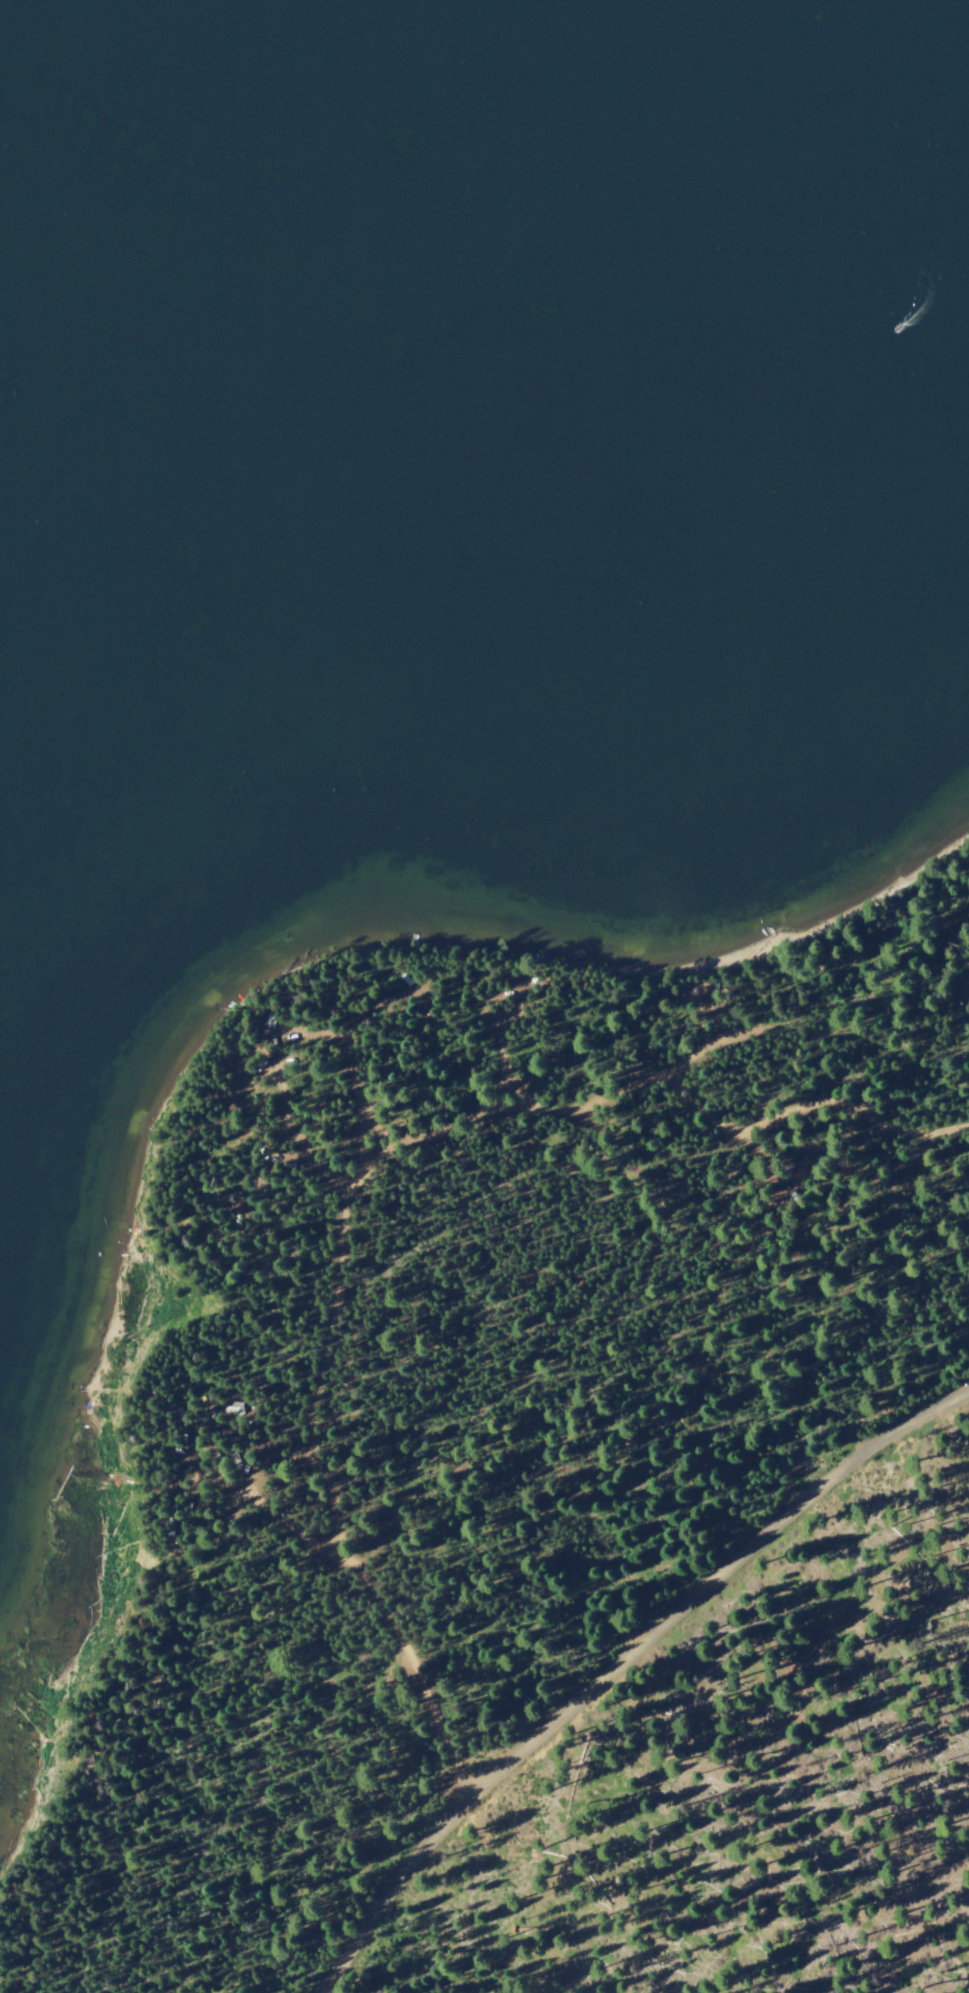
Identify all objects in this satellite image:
road: (504, 1030)
road: (707, 1049)
road: (339, 1067)
road: (357, 1180)
road: (252, 1498)
road: (616, 1661)

